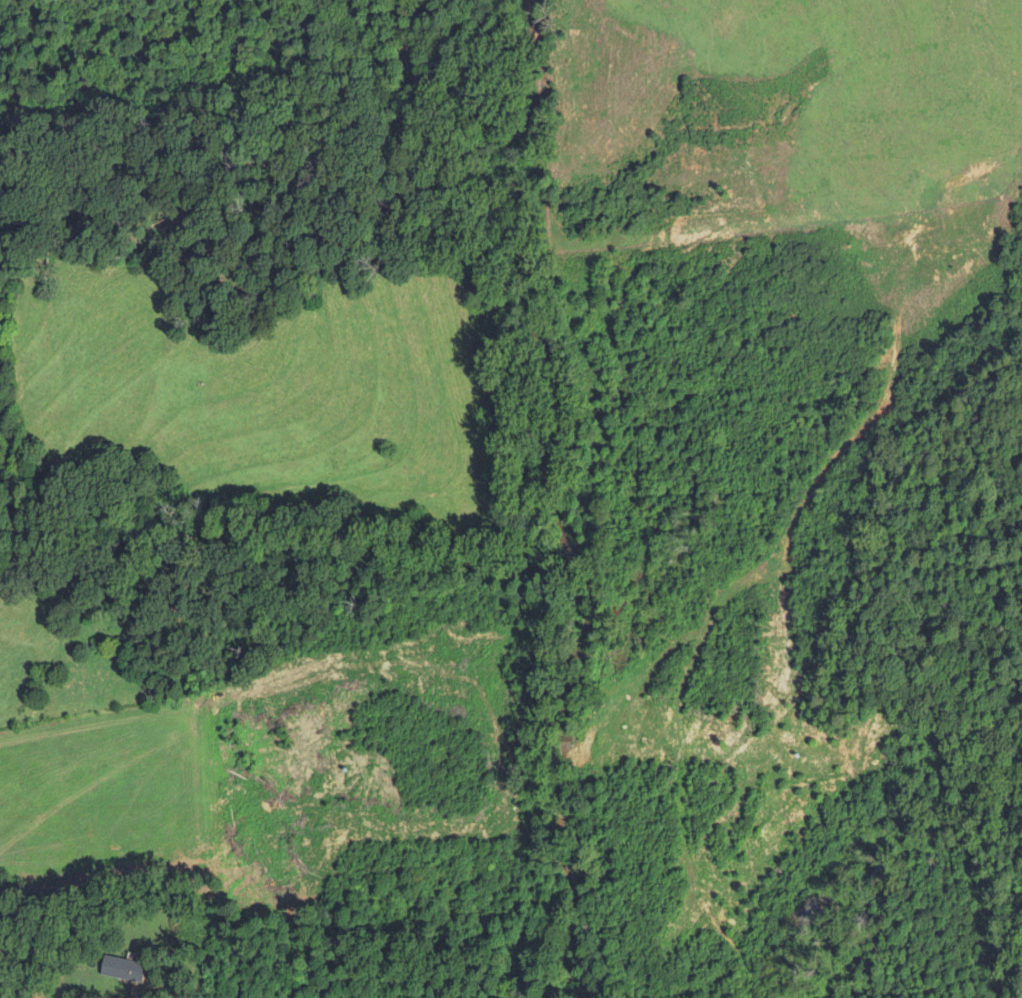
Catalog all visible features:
building: (121, 969)

